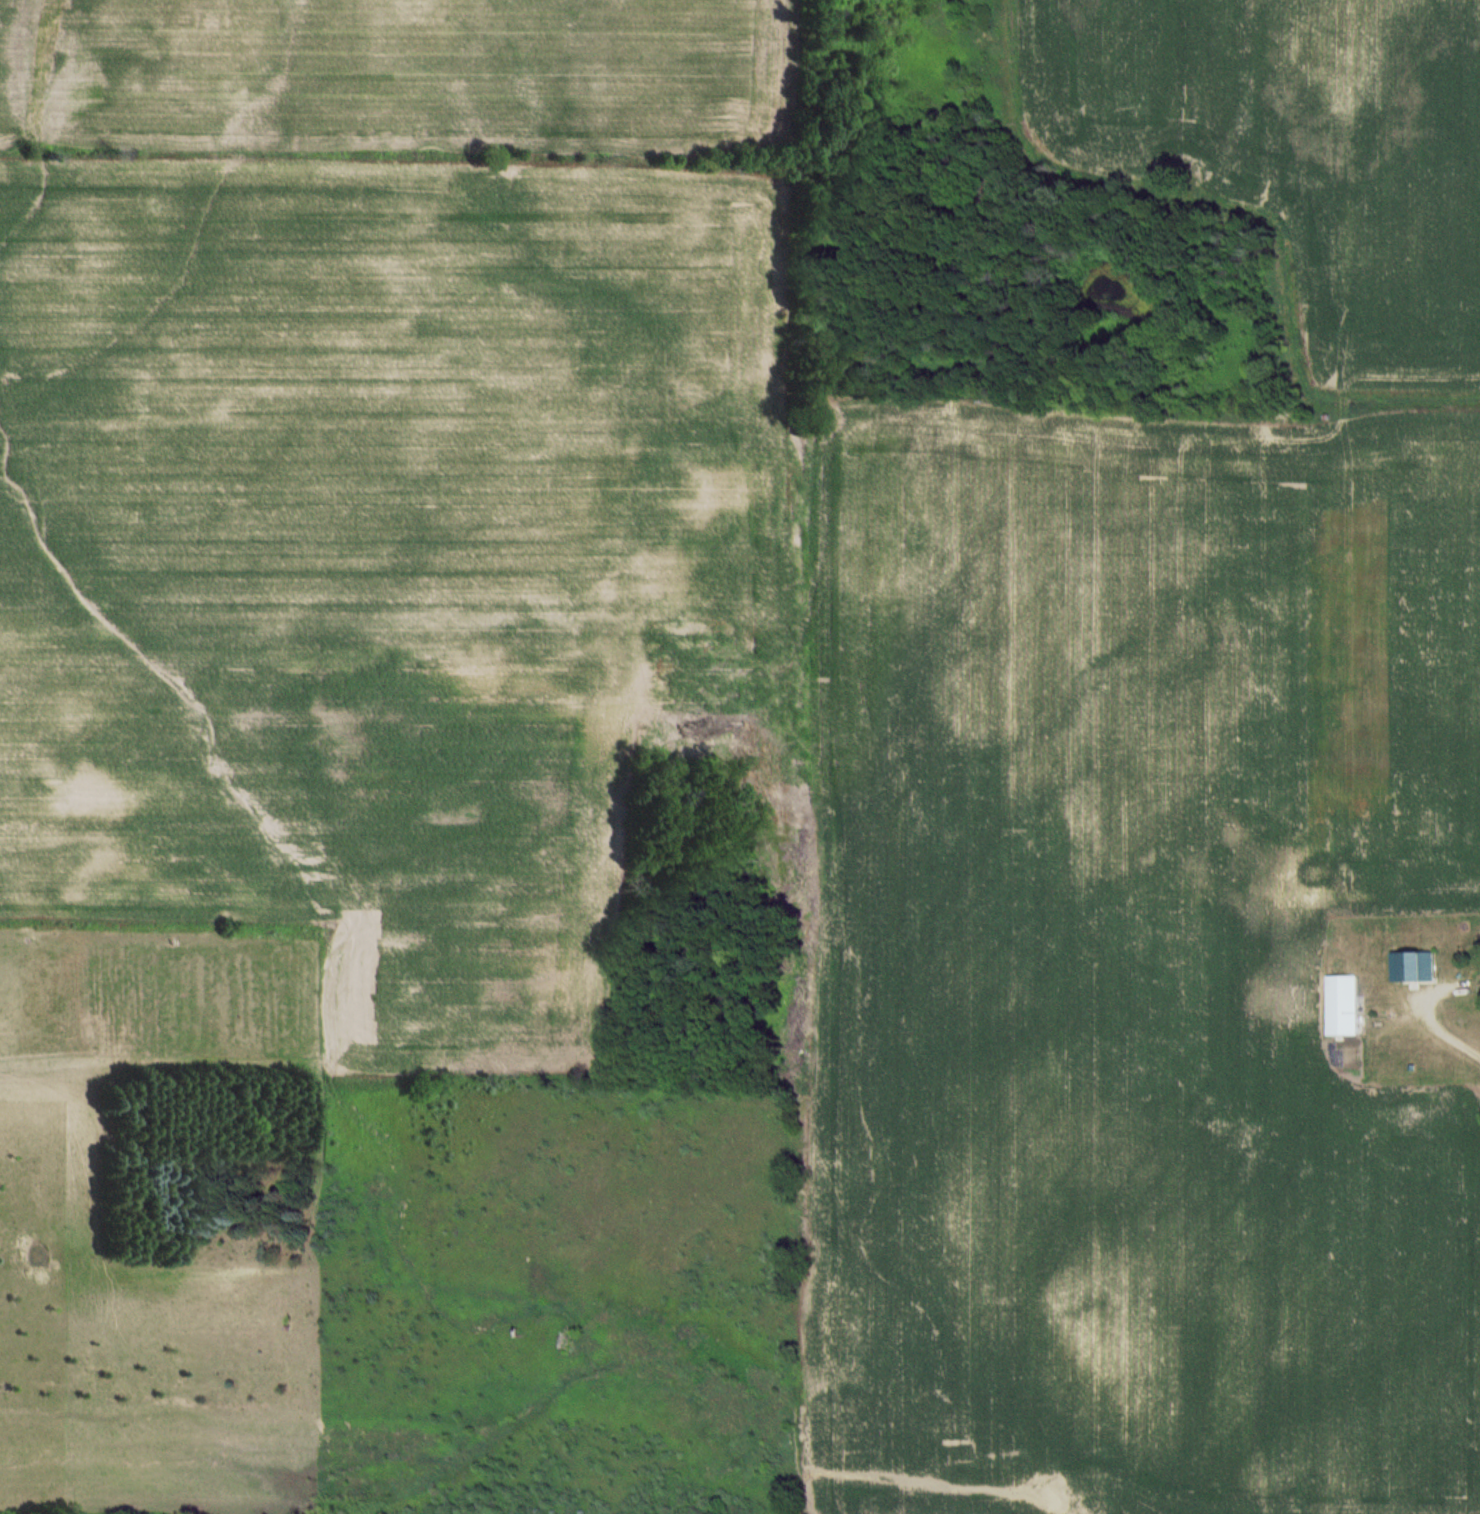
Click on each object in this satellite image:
building: (1416, 966)
building: (1345, 1006)
road: (1424, 1015)

